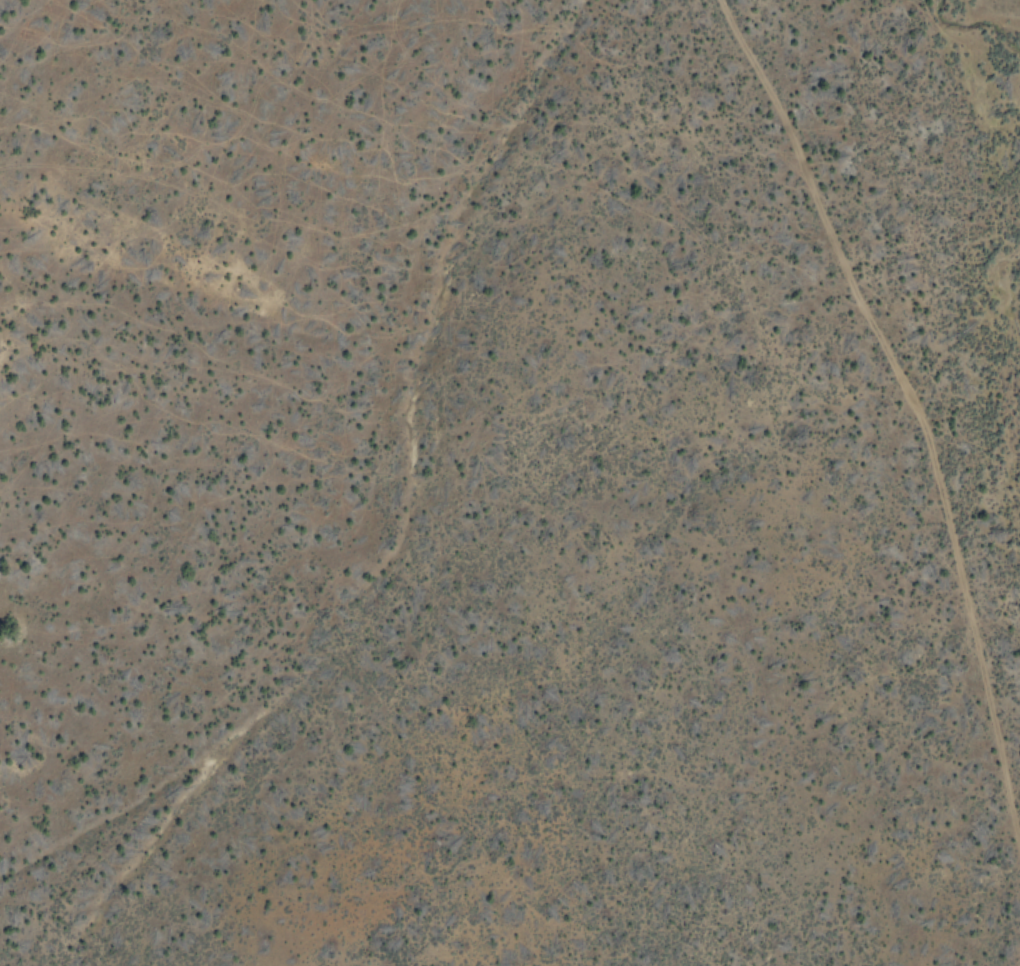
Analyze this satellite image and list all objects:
road: (915, 455)

